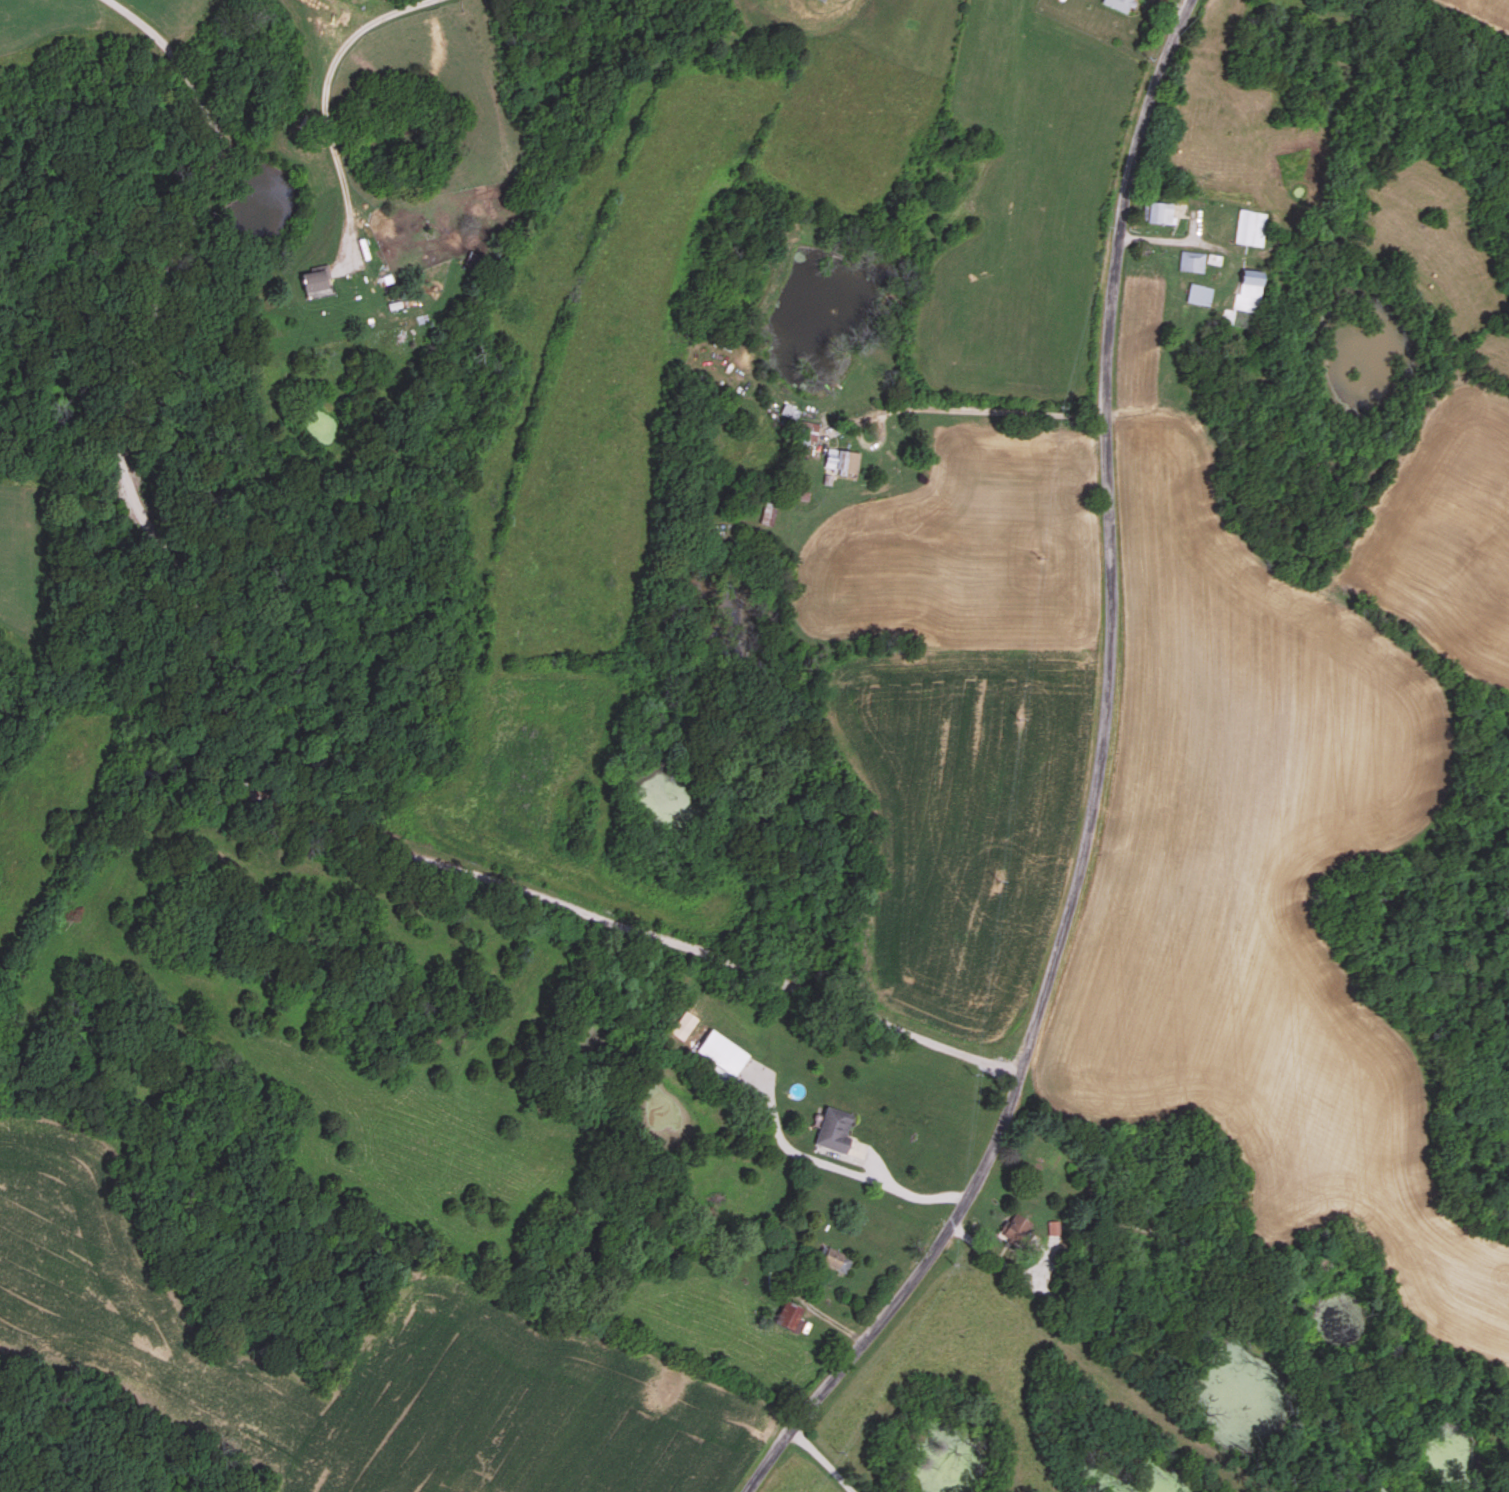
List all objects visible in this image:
building: (1122, 4)
road: (326, 106)
building: (1161, 212)
building: (1252, 228)
building: (474, 261)
building: (1192, 261)
building: (319, 279)
building: (1201, 295)
building: (1251, 299)
road: (979, 411)
building: (793, 413)
building: (846, 460)
building: (771, 513)
road: (237, 765)
road: (1099, 787)
building: (727, 1053)
building: (838, 1131)
road: (840, 1169)
building: (1020, 1228)
building: (840, 1259)
building: (792, 1313)
road: (825, 1458)

